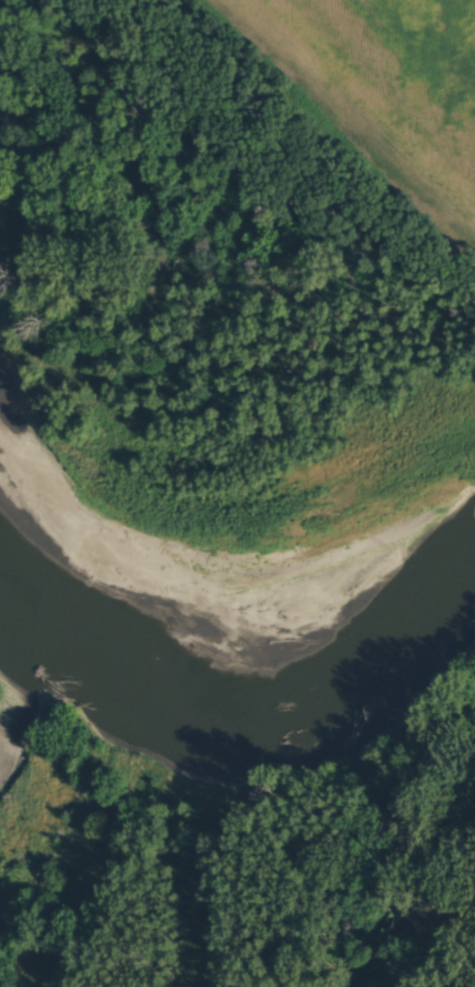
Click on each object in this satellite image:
river: (247, 586)

